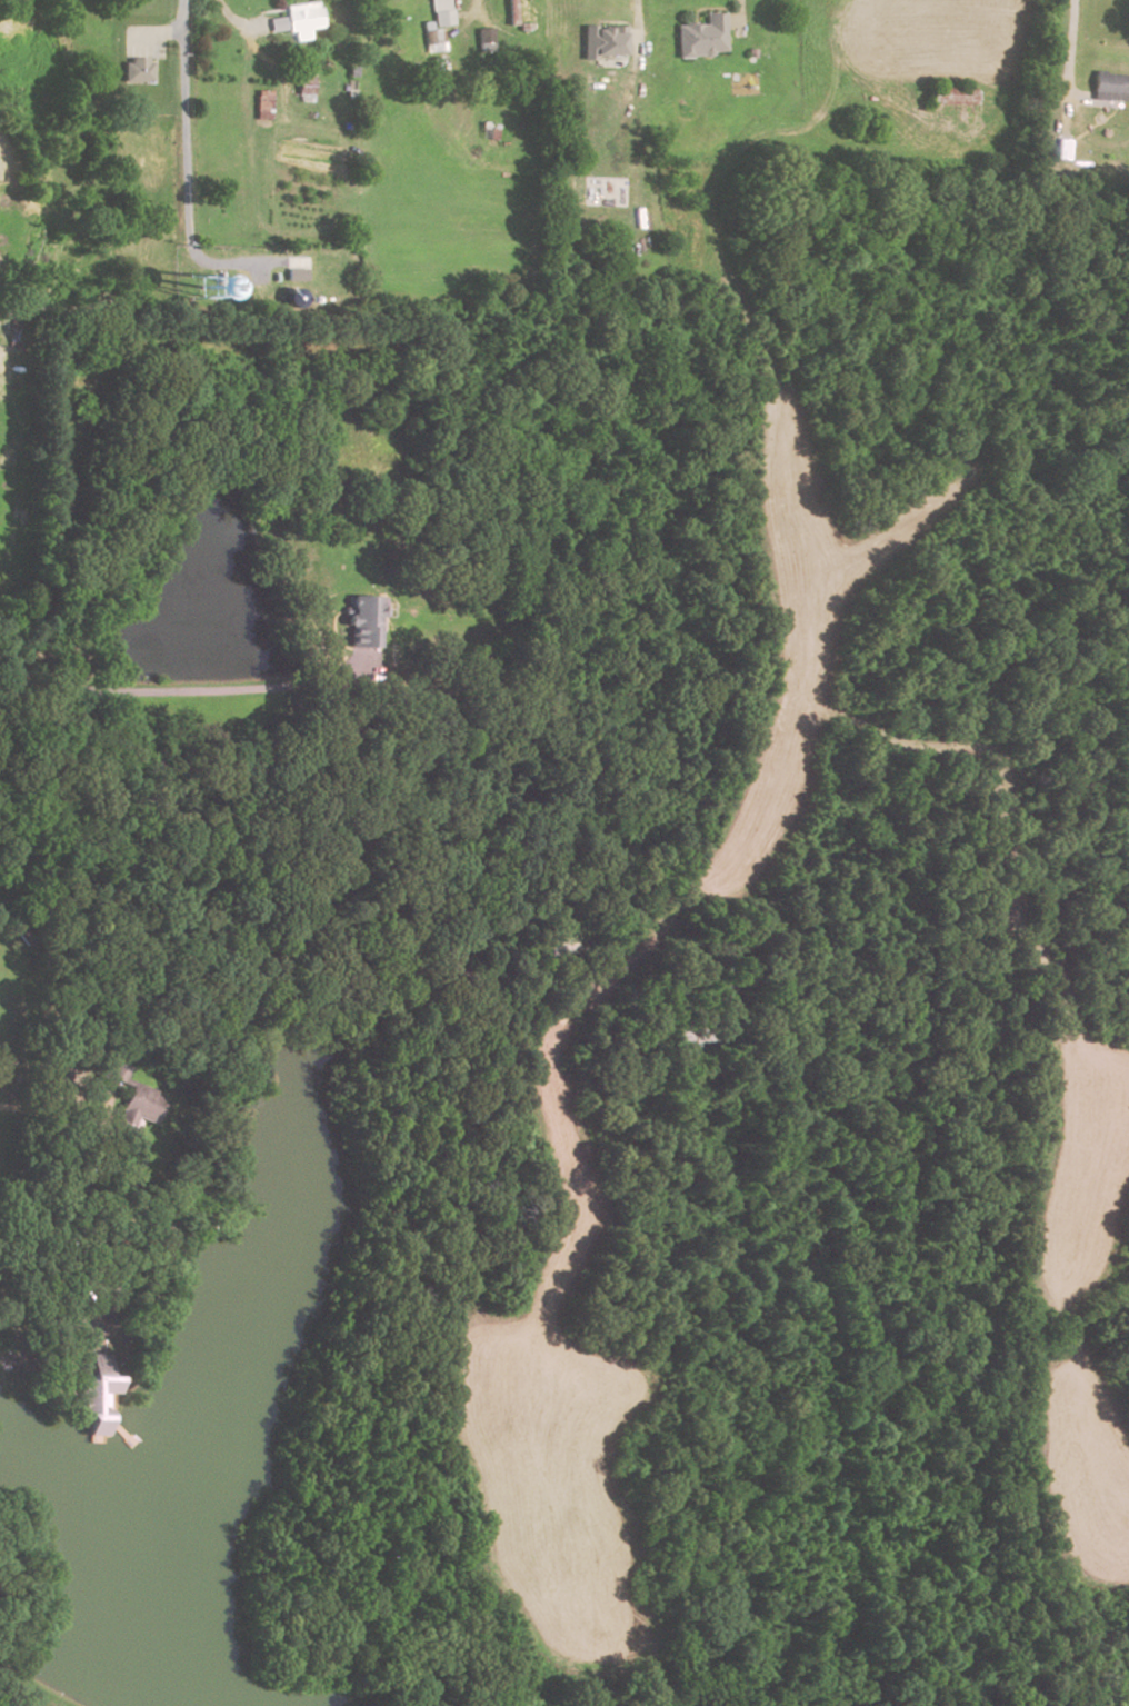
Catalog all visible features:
road: (473, 9)
building: (441, 13)
building: (522, 13)
road: (738, 14)
building: (301, 17)
road: (637, 20)
building: (277, 22)
road: (156, 36)
building: (484, 37)
building: (701, 39)
building: (600, 41)
road: (1071, 41)
building: (432, 42)
road: (258, 56)
building: (137, 70)
building: (1107, 83)
building: (304, 87)
building: (951, 94)
building: (261, 104)
road: (183, 146)
building: (296, 273)
building: (202, 279)
water tower: (182, 291)
building: (360, 621)
road: (183, 692)
building: (131, 1104)
road: (33, 1105)
crop: (1082, 1175)
road: (67, 1261)
building: (92, 1399)
pier: (120, 1435)

